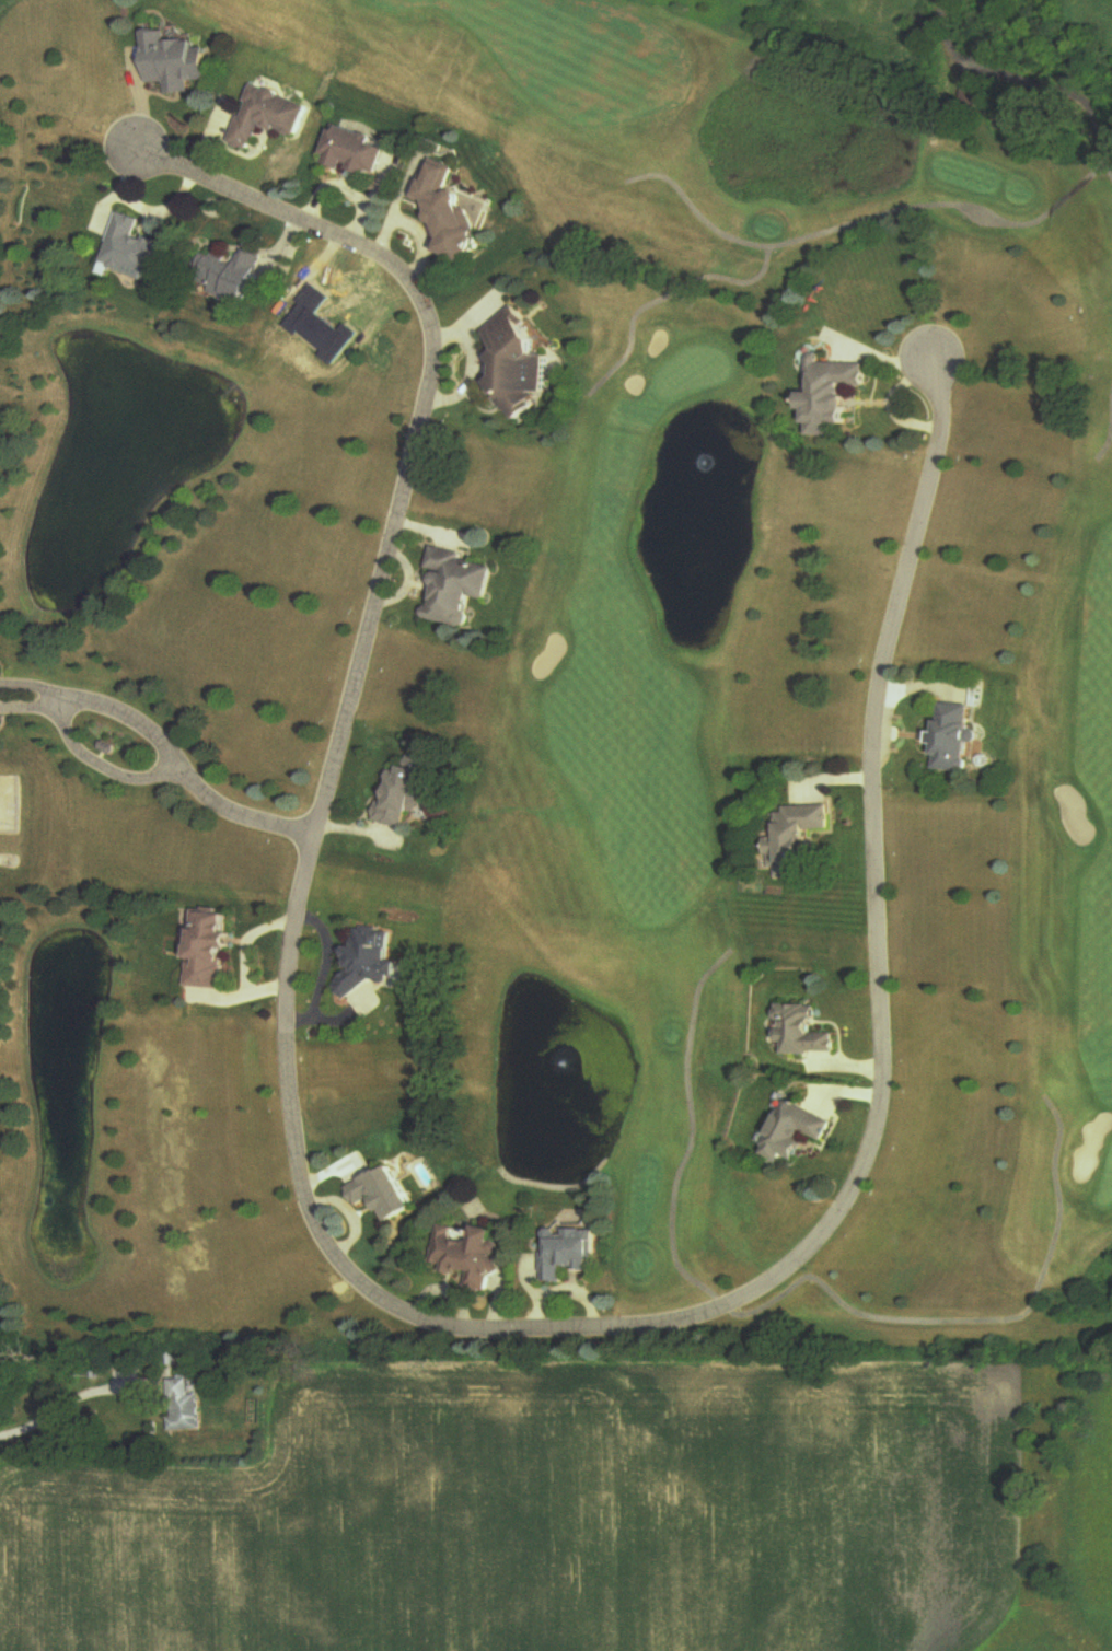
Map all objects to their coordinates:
building: (177, 63)
building: (973, 94)
building: (271, 117)
building: (358, 153)
building: (454, 211)
building: (134, 251)
building: (229, 277)
building: (521, 364)
building: (833, 396)
building: (460, 588)
park: (794, 648)
building: (955, 739)
road: (161, 759)
building: (405, 794)
building: (798, 841)
building: (213, 951)
building: (373, 963)
building: (806, 1033)
building: (799, 1133)
building: (385, 1195)
building: (570, 1254)
building: (472, 1256)
road: (377, 1297)
road: (61, 1402)
building: (186, 1405)

